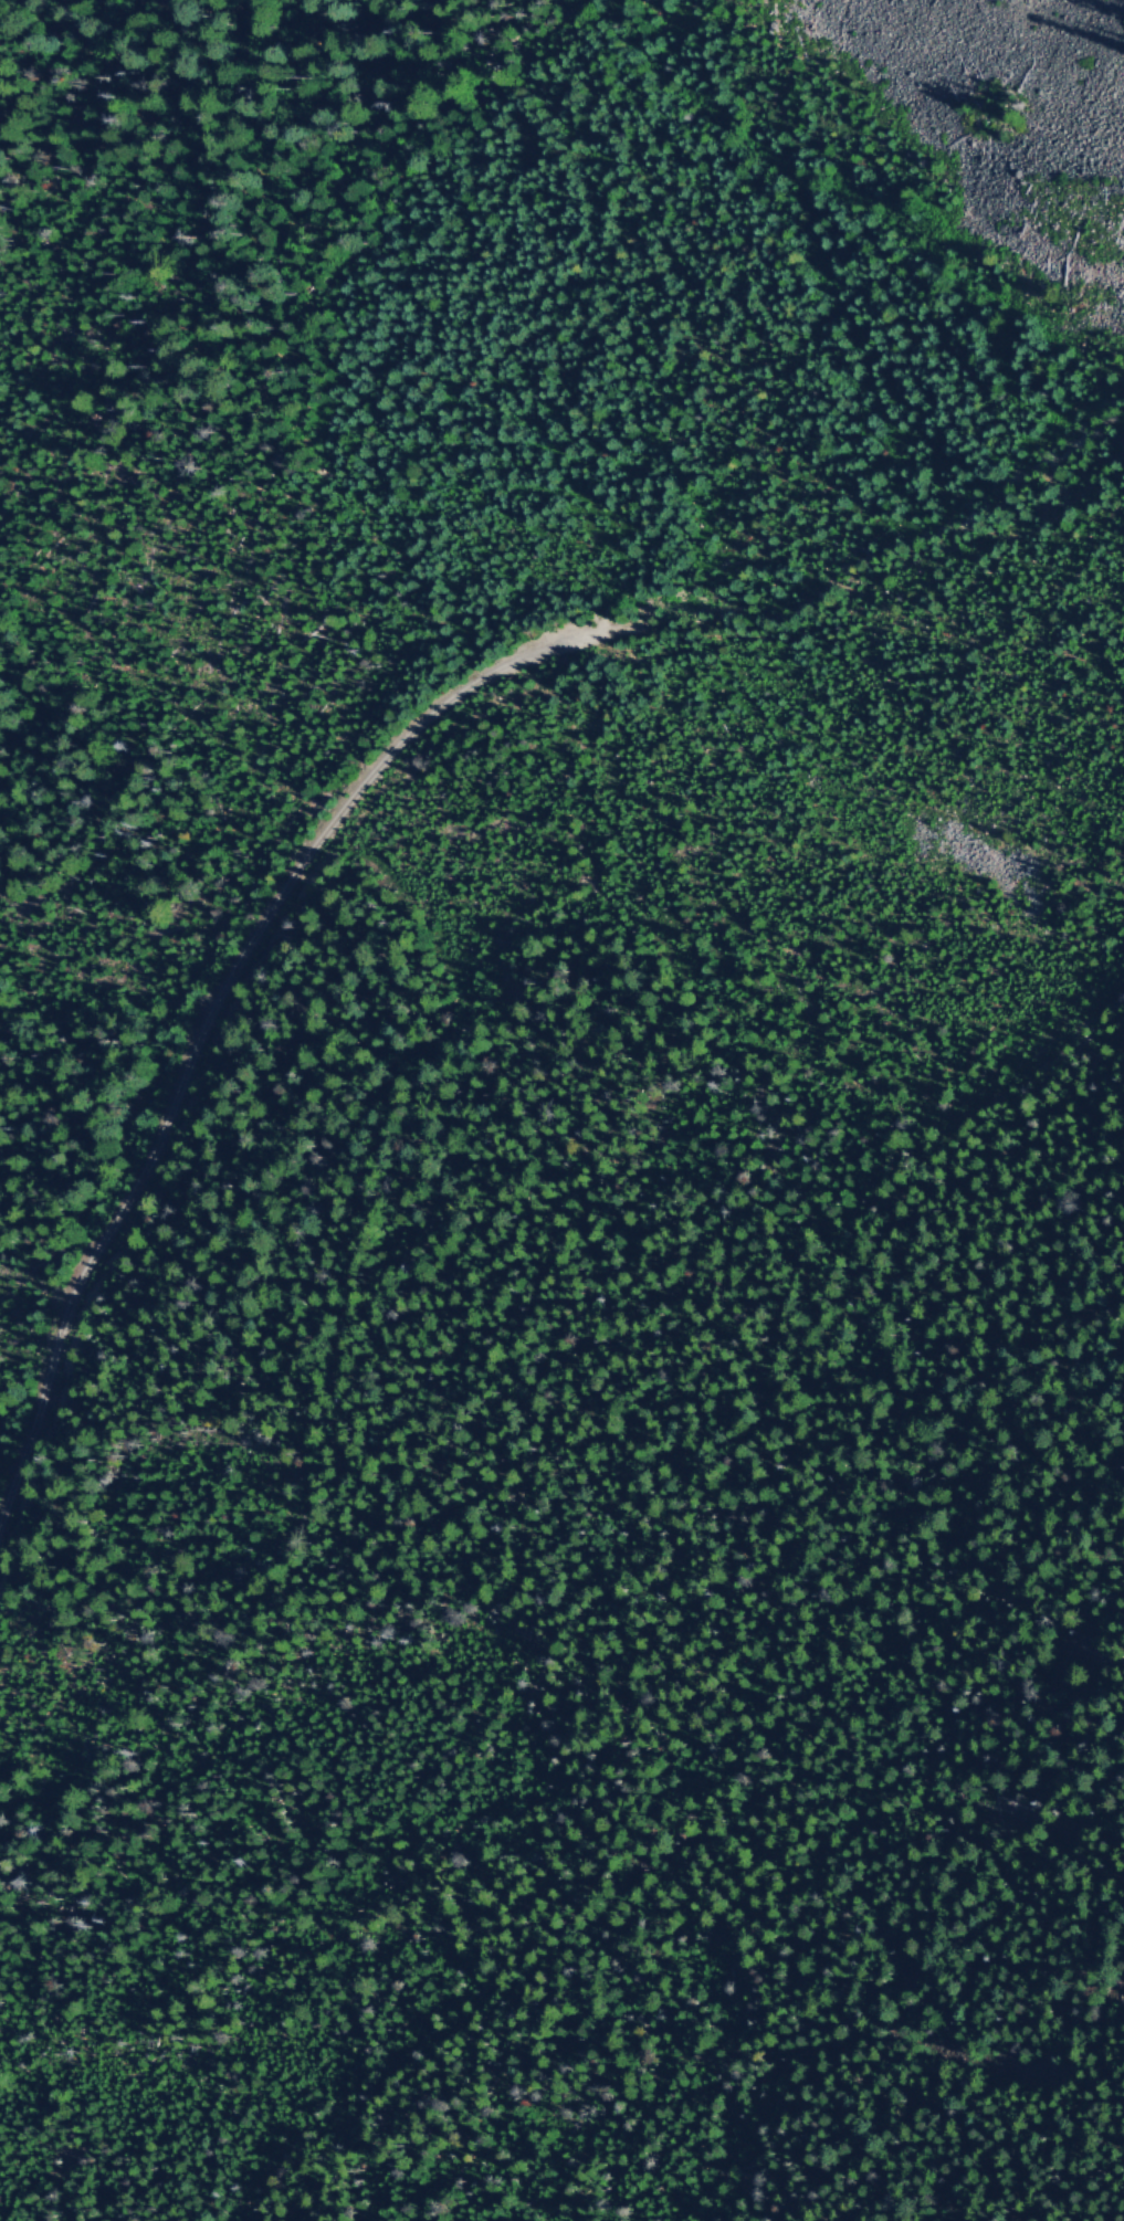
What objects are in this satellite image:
road: (245, 947)

